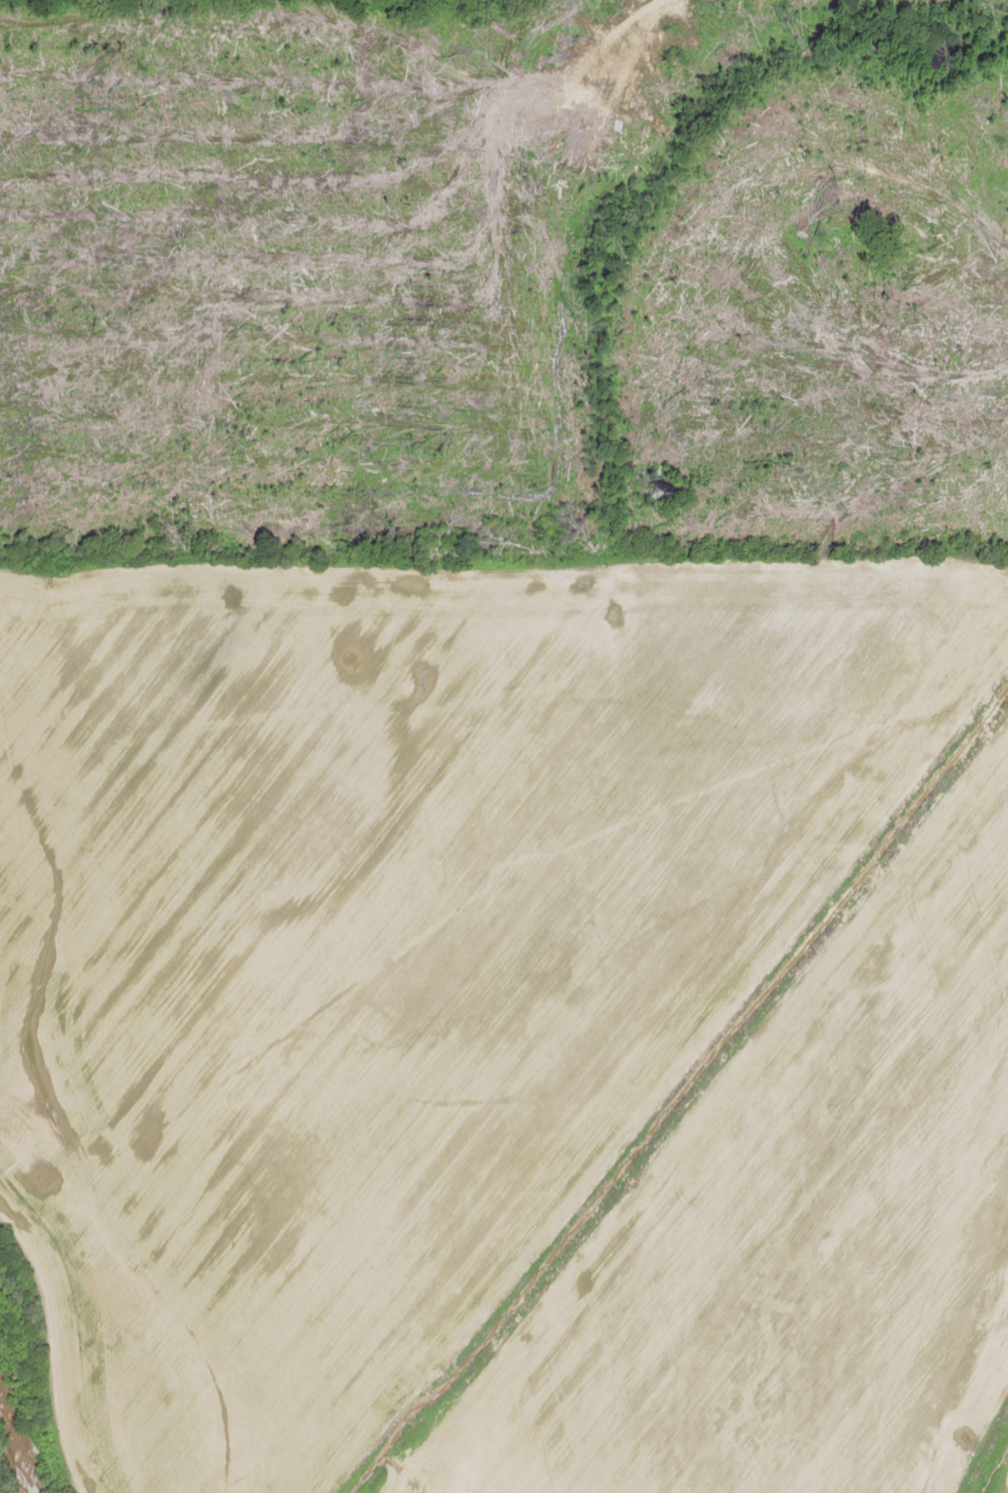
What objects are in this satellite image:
river: (19, 1441)

